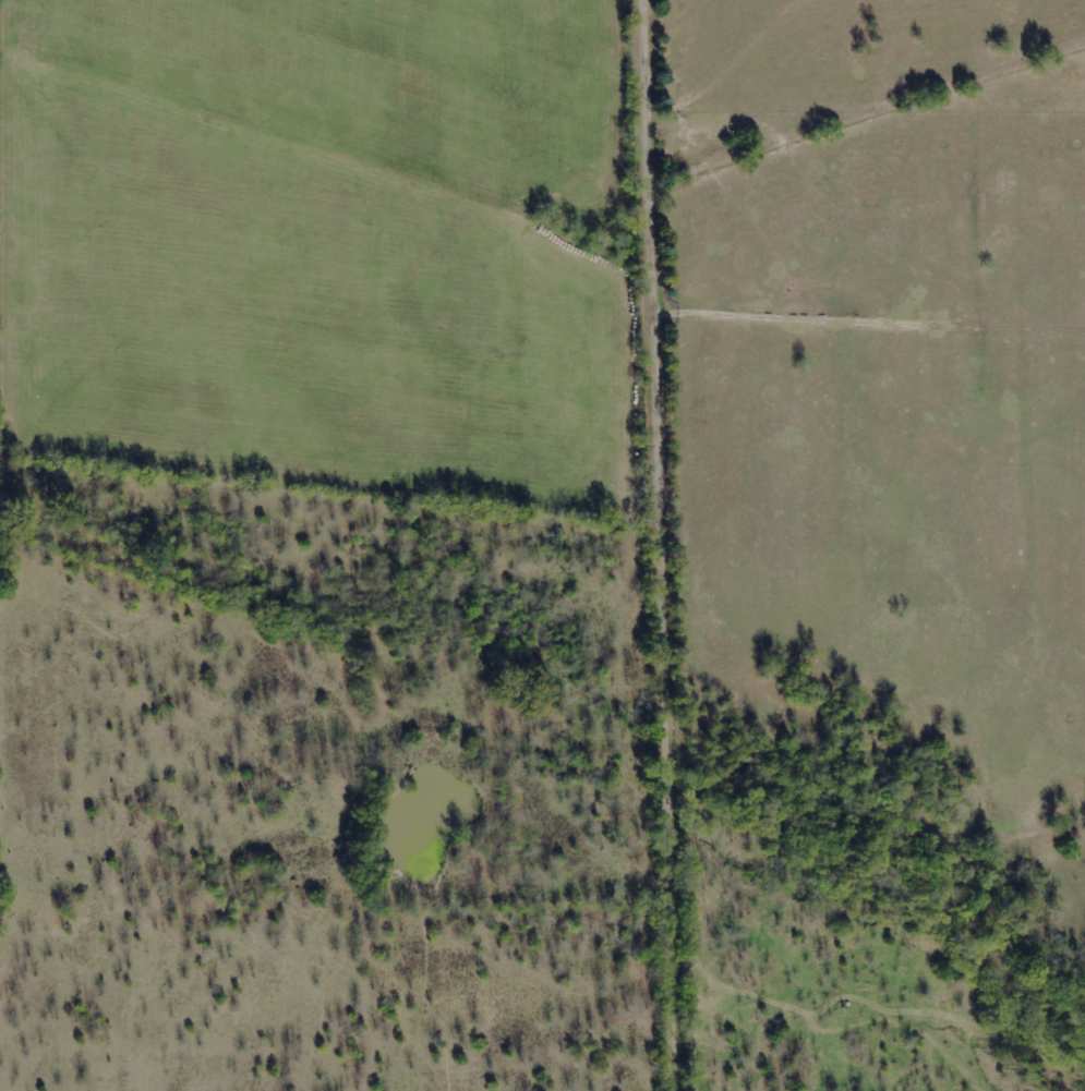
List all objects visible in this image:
road: (670, 545)

